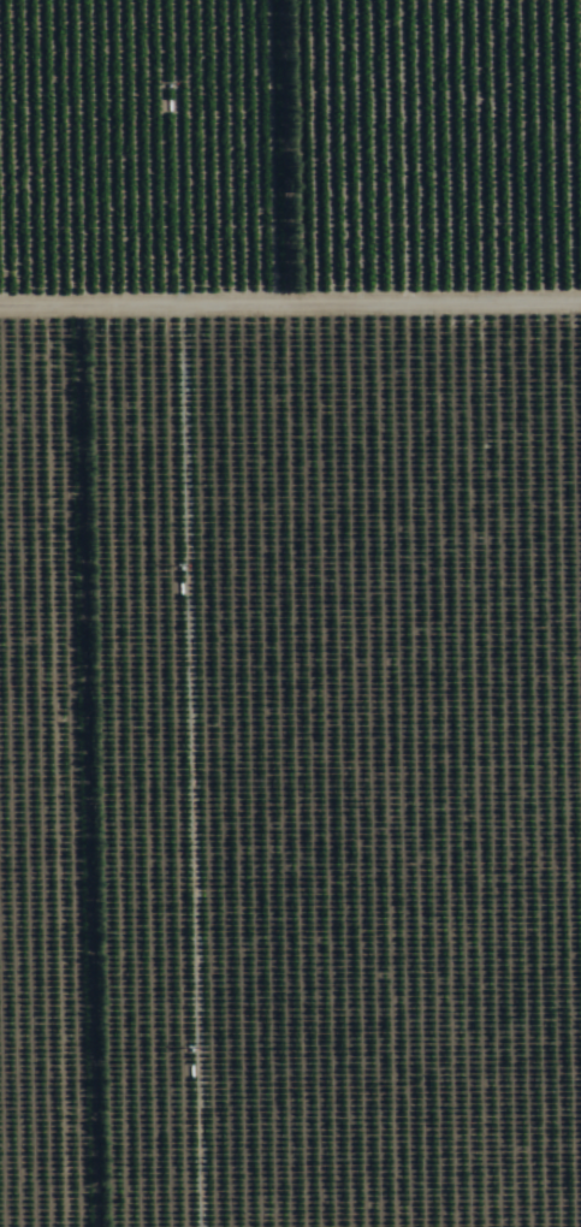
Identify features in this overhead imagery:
crop: (290, 613)

